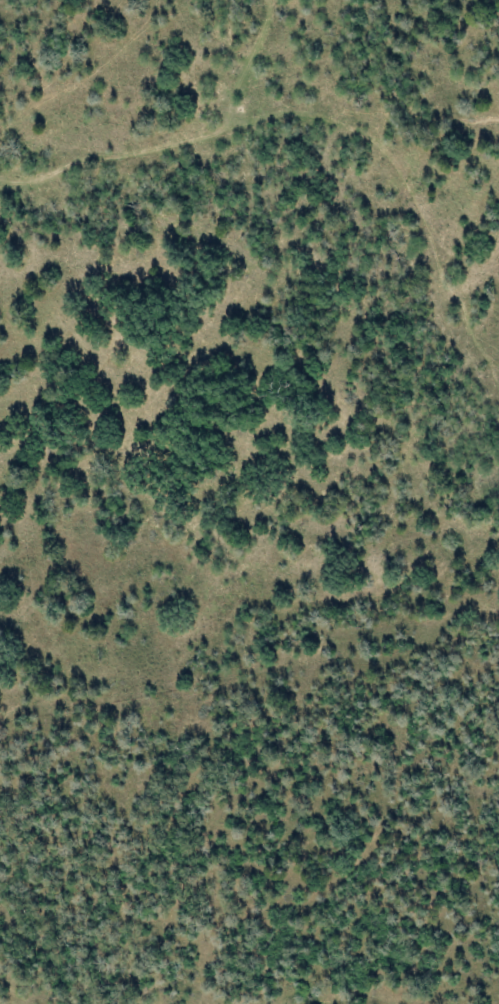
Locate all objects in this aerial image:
road: (245, 120)

